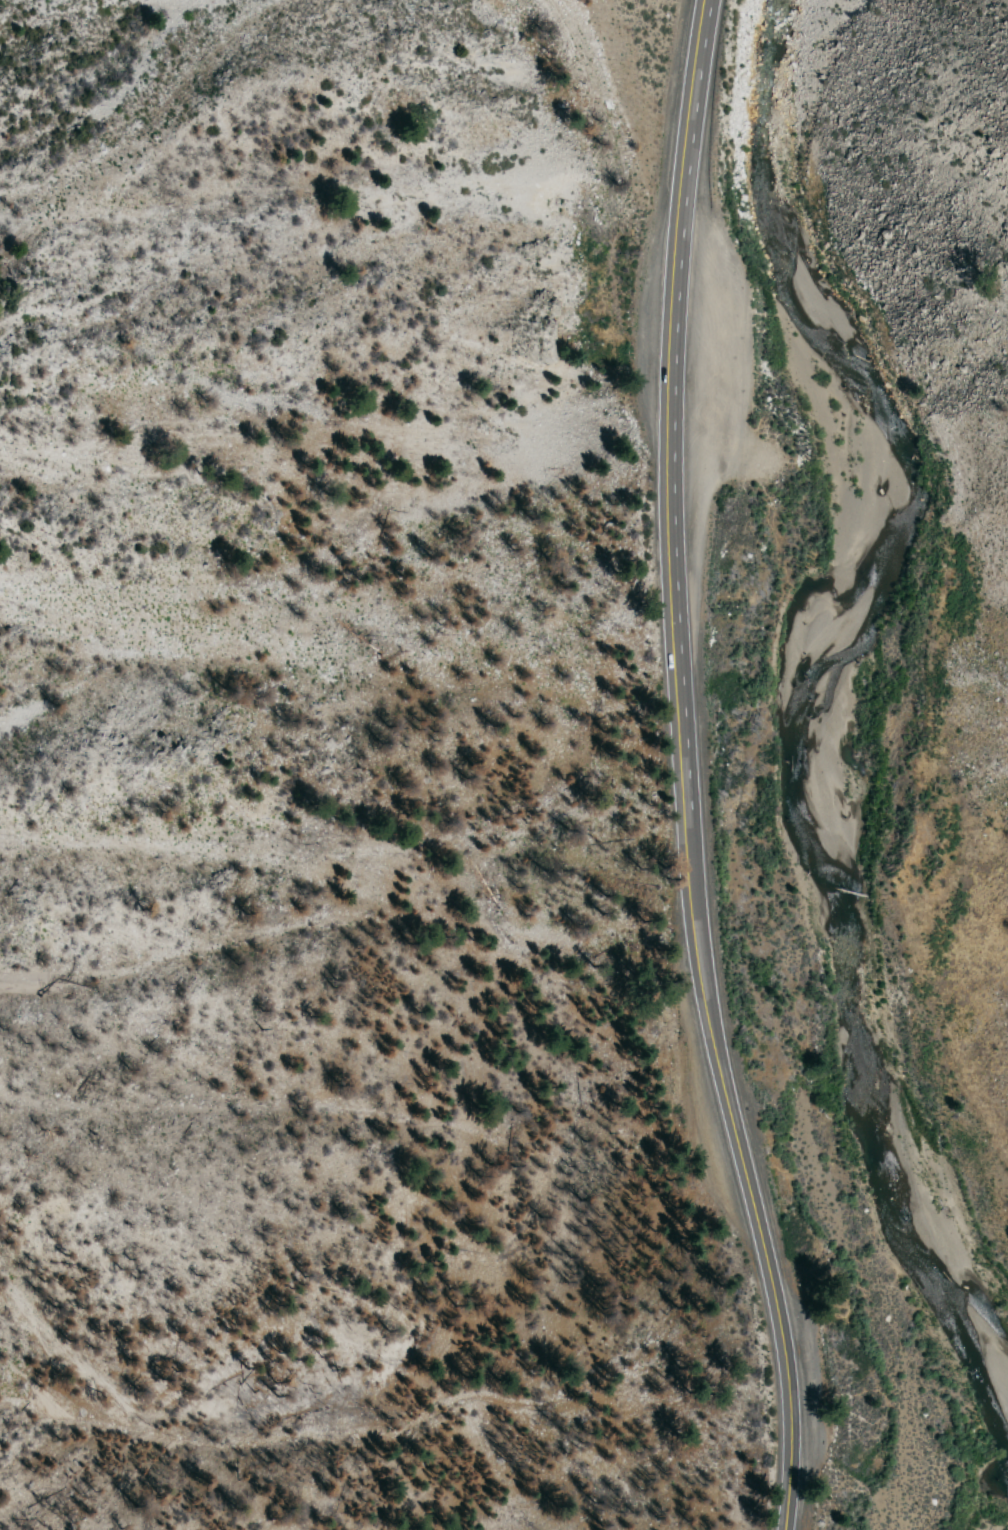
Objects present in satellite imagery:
road: (665, 376)
river: (790, 698)
road: (734, 1142)

